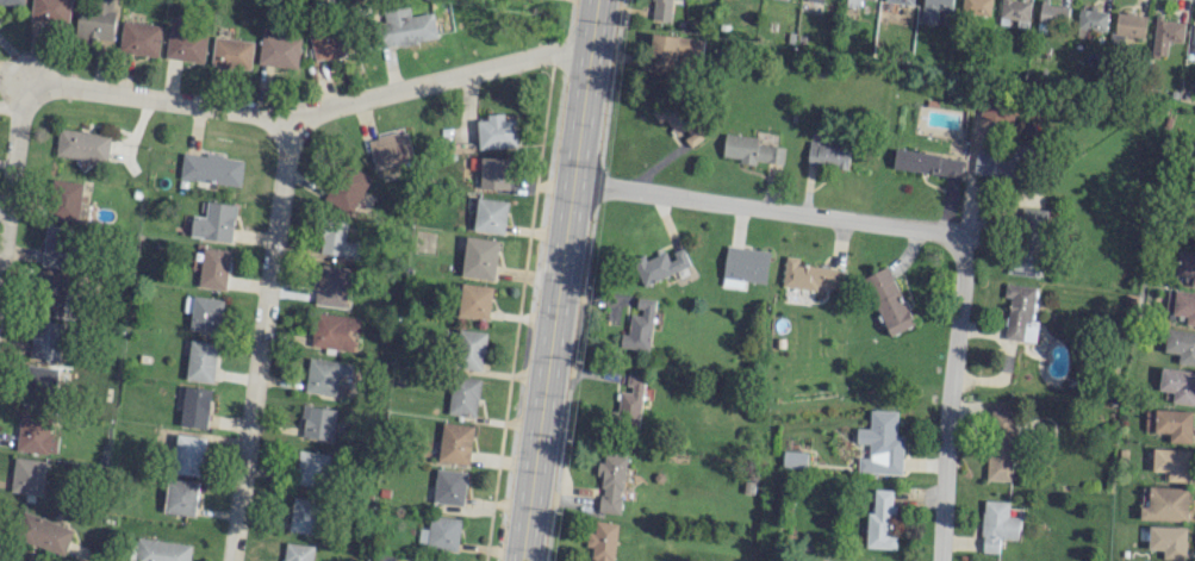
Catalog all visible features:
building: (815, 0)
building: (11, 1)
building: (900, 1)
building: (976, 7)
building: (660, 10)
building: (933, 10)
building: (51, 11)
building: (1015, 11)
building: (1052, 13)
building: (95, 19)
building: (1090, 21)
building: (404, 24)
building: (1127, 26)
building: (1165, 33)
building: (139, 38)
building: (1193, 40)
building: (186, 44)
building: (328, 44)
building: (279, 48)
building: (674, 50)
building: (231, 54)
road: (313, 111)
building: (996, 112)
building: (672, 113)
building: (496, 131)
building: (693, 136)
building: (82, 144)
building: (388, 150)
building: (751, 150)
building: (827, 155)
building: (927, 163)
building: (996, 163)
building: (211, 168)
road: (12, 173)
building: (493, 173)
building: (347, 188)
building: (66, 201)
road: (773, 208)
building: (490, 216)
building: (213, 222)
building: (1193, 237)
building: (337, 239)
building: (1027, 241)
building: (56, 245)
building: (479, 257)
building: (659, 264)
building: (745, 264)
building: (1185, 266)
building: (213, 267)
building: (808, 275)
road: (556, 280)
building: (331, 285)
building: (51, 293)
building: (474, 300)
building: (888, 300)
building: (1184, 305)
building: (1020, 312)
building: (206, 313)
building: (639, 325)
building: (334, 331)
road: (261, 338)
building: (46, 339)
building: (1181, 345)
building: (468, 349)
building: (201, 361)
building: (328, 375)
building: (41, 379)
building: (1177, 385)
building: (462, 395)
building: (630, 401)
building: (194, 406)
road: (952, 410)
building: (317, 422)
building: (1174, 424)
building: (36, 435)
building: (454, 443)
building: (880, 444)
building: (1000, 444)
building: (187, 454)
building: (793, 459)
building: (1171, 462)
building: (310, 468)
building: (27, 475)
building: (611, 482)
building: (449, 486)
building: (180, 497)
building: (1164, 504)
building: (301, 515)
building: (879, 522)
building: (996, 525)
building: (43, 532)
building: (440, 532)
building: (602, 541)
building: (1166, 541)
building: (158, 550)
building: (297, 551)

